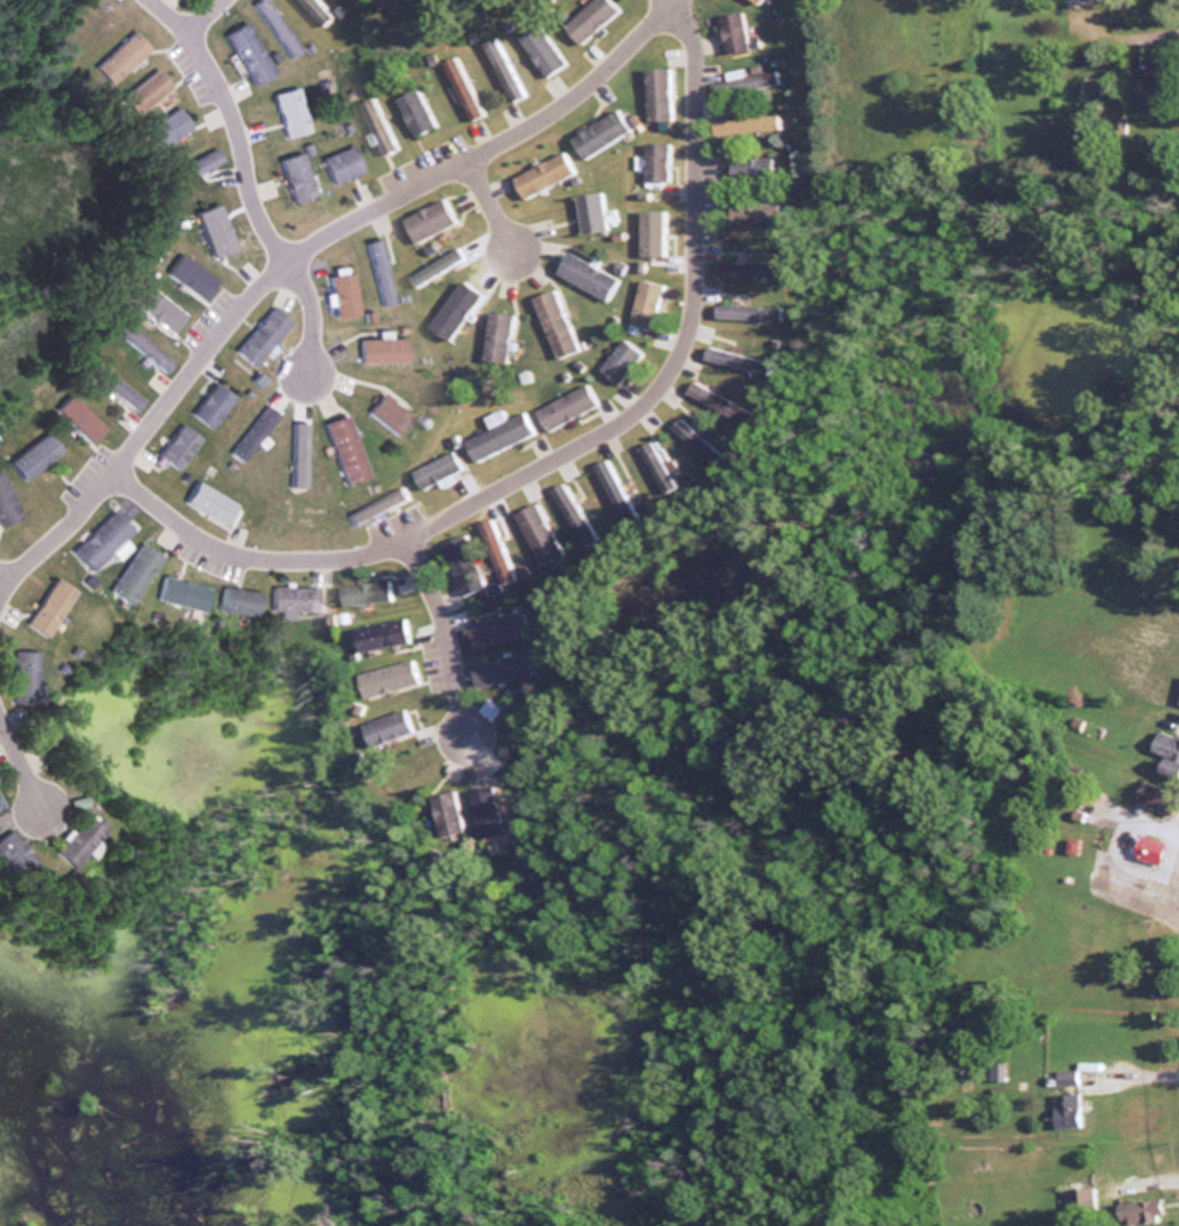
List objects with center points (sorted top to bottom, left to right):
building: (752, 0)
road: (667, 1)
building: (316, 8)
building: (1084, 13)
road: (206, 17)
building: (586, 18)
building: (273, 25)
road: (1148, 29)
building: (732, 31)
building: (538, 48)
building: (243, 50)
building: (500, 66)
building: (1153, 82)
building: (458, 85)
building: (655, 93)
building: (412, 109)
building: (286, 111)
building: (374, 123)
building: (744, 123)
building: (161, 126)
building: (654, 160)
building: (337, 162)
building: (184, 167)
building: (750, 168)
building: (540, 173)
building: (291, 175)
road: (246, 177)
road: (489, 207)
building: (588, 210)
building: (752, 215)
building: (427, 218)
road: (298, 249)
building: (746, 268)
building: (375, 270)
building: (585, 275)
building: (338, 292)
building: (643, 303)
building: (154, 308)
building: (746, 311)
building: (553, 322)
building: (498, 334)
building: (734, 359)
building: (113, 388)
building: (708, 397)
building: (206, 403)
building: (564, 406)
building: (71, 412)
building: (498, 433)
building: (339, 448)
road: (567, 451)
building: (28, 456)
building: (653, 462)
building: (6, 502)
building: (571, 513)
building: (537, 534)
building: (96, 538)
building: (462, 564)
road: (2, 572)
building: (130, 572)
building: (179, 591)
building: (363, 591)
building: (288, 599)
building: (236, 601)
building: (44, 606)
building: (498, 629)
building: (379, 633)
road: (440, 637)
building: (499, 668)
building: (20, 677)
building: (385, 677)
building: (385, 726)
building: (1166, 745)
road: (19, 766)
building: (1154, 796)
building: (484, 807)
building: (445, 810)
building: (75, 840)
building: (1145, 847)
building: (1066, 1097)
building: (1138, 1212)

